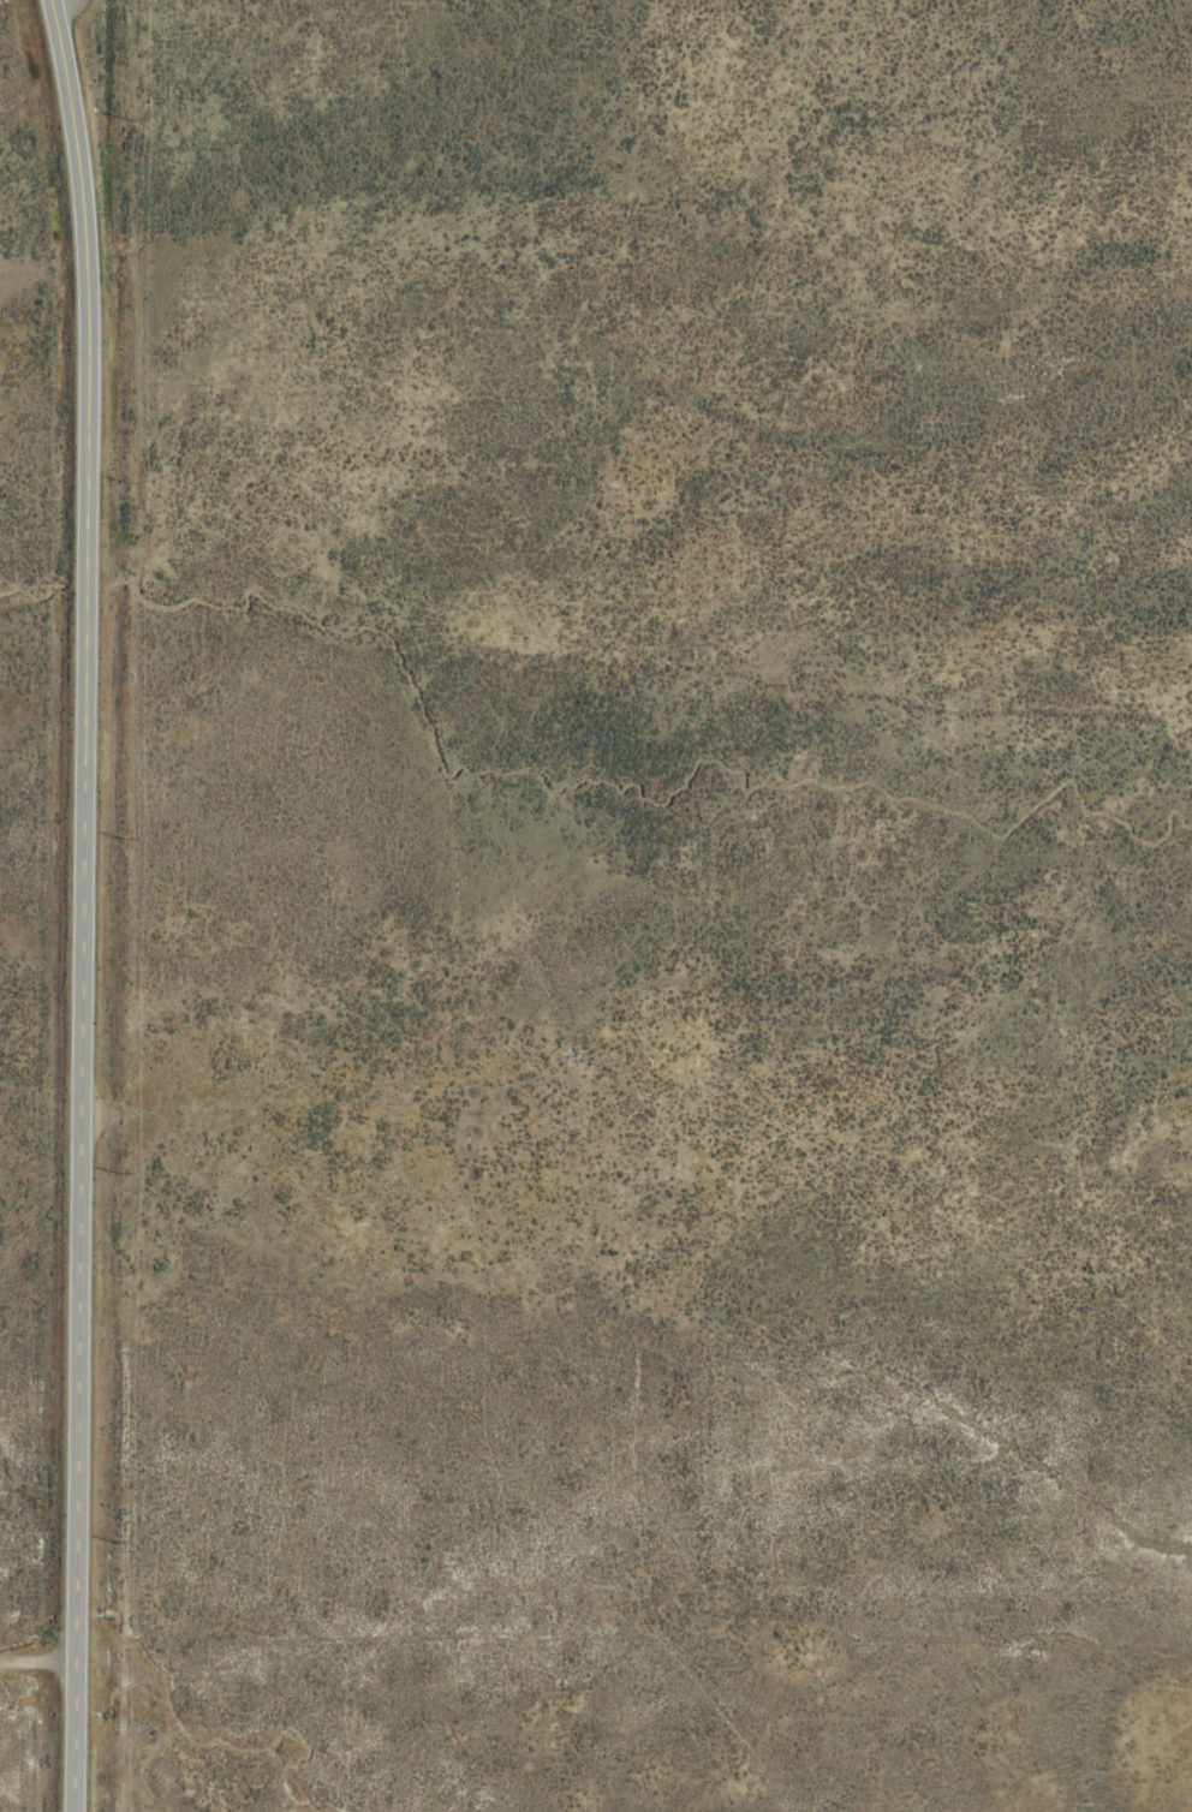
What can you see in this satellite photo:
road: (64, 28)
road: (77, 904)
crop: (596, 906)
road: (35, 1692)

